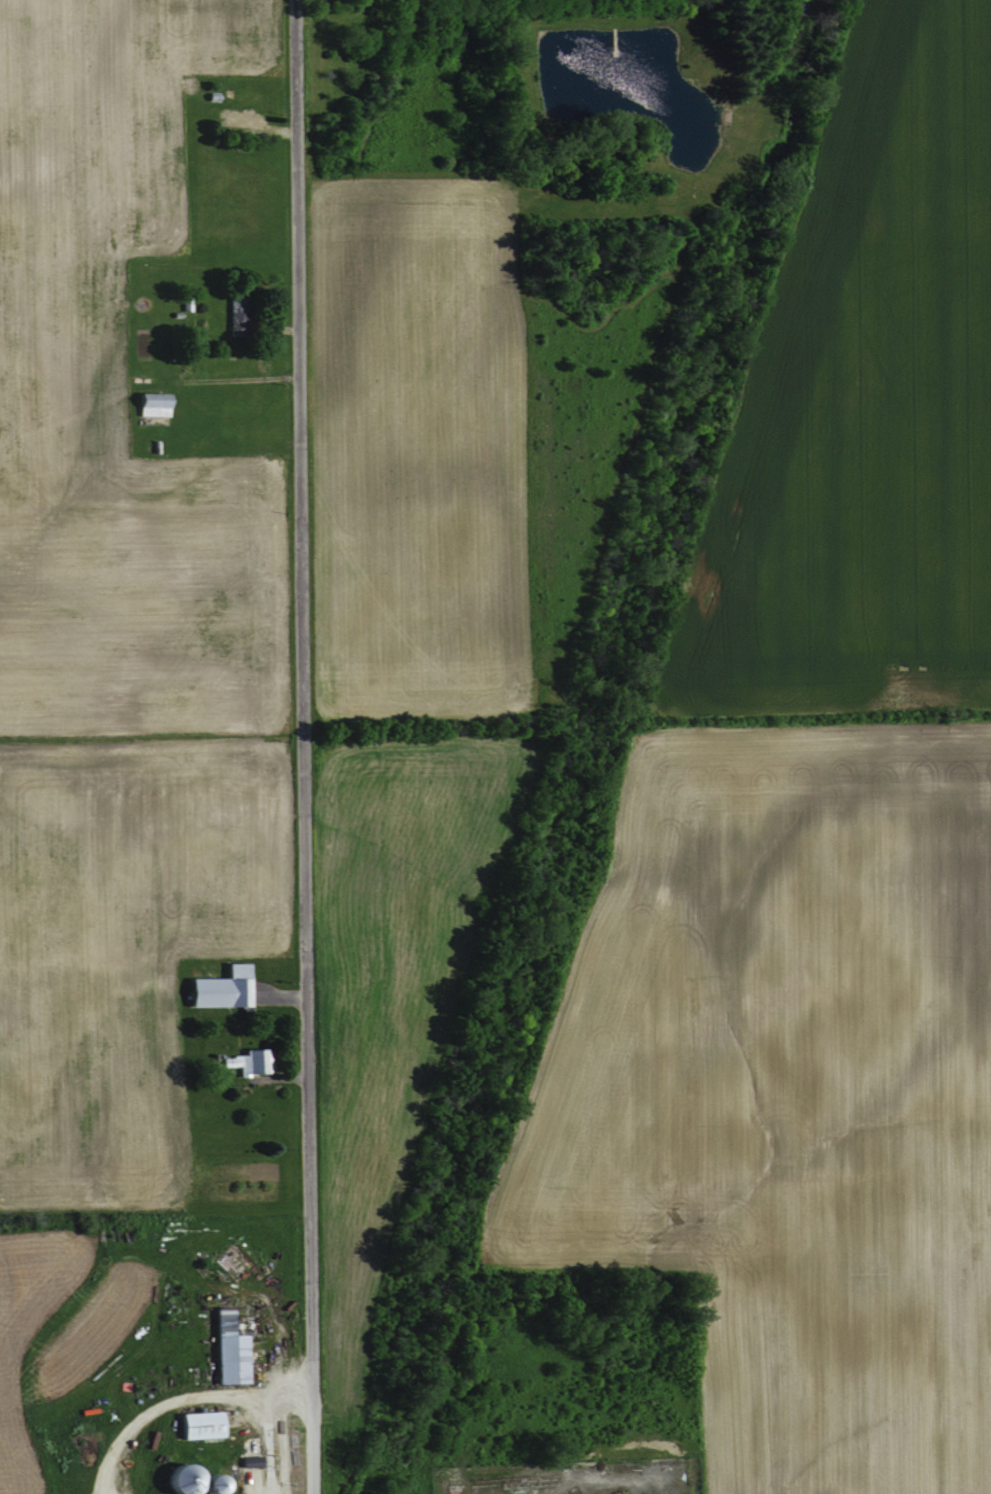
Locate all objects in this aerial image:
building: (148, 403)
road: (301, 746)
building: (217, 988)
building: (245, 1061)
building: (223, 1350)
road: (179, 1398)
building: (197, 1423)
building: (185, 1480)

